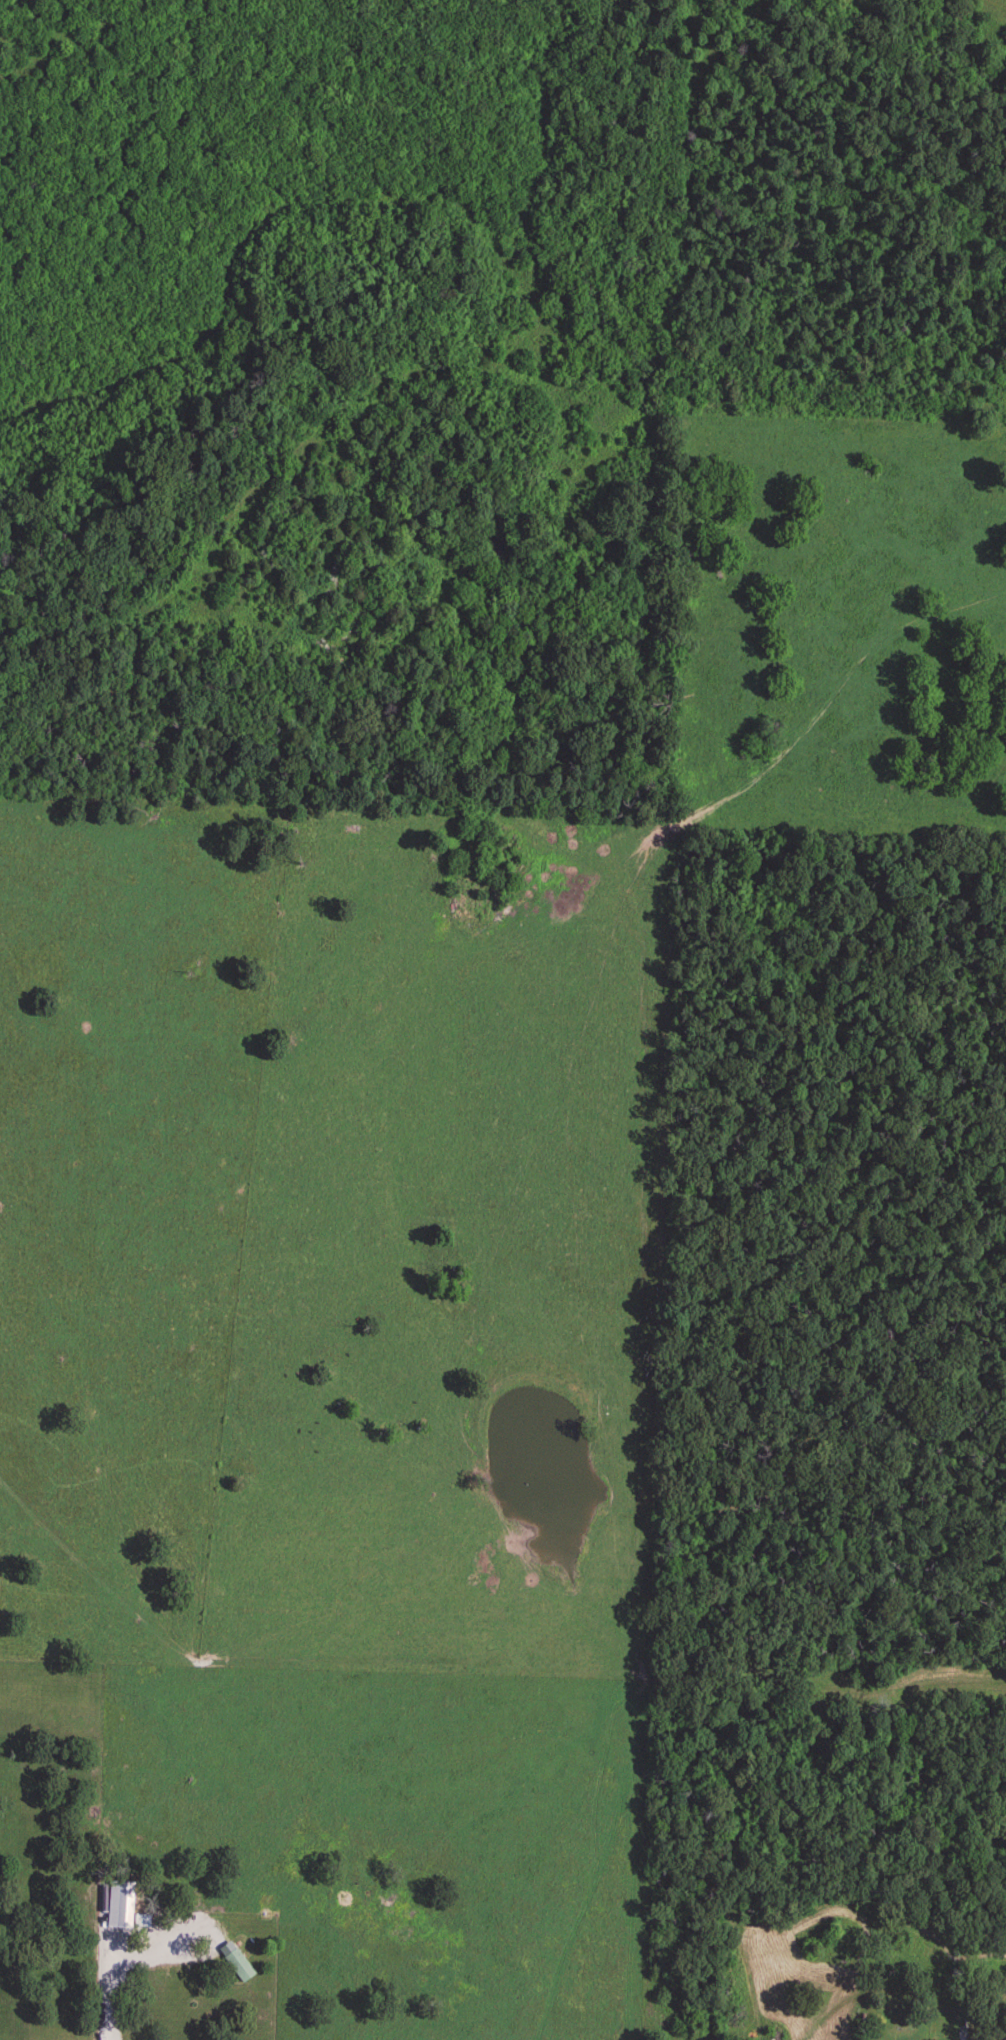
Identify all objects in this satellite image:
building: (718, 627)
building: (140, 1921)
building: (237, 1967)
road: (106, 1992)

